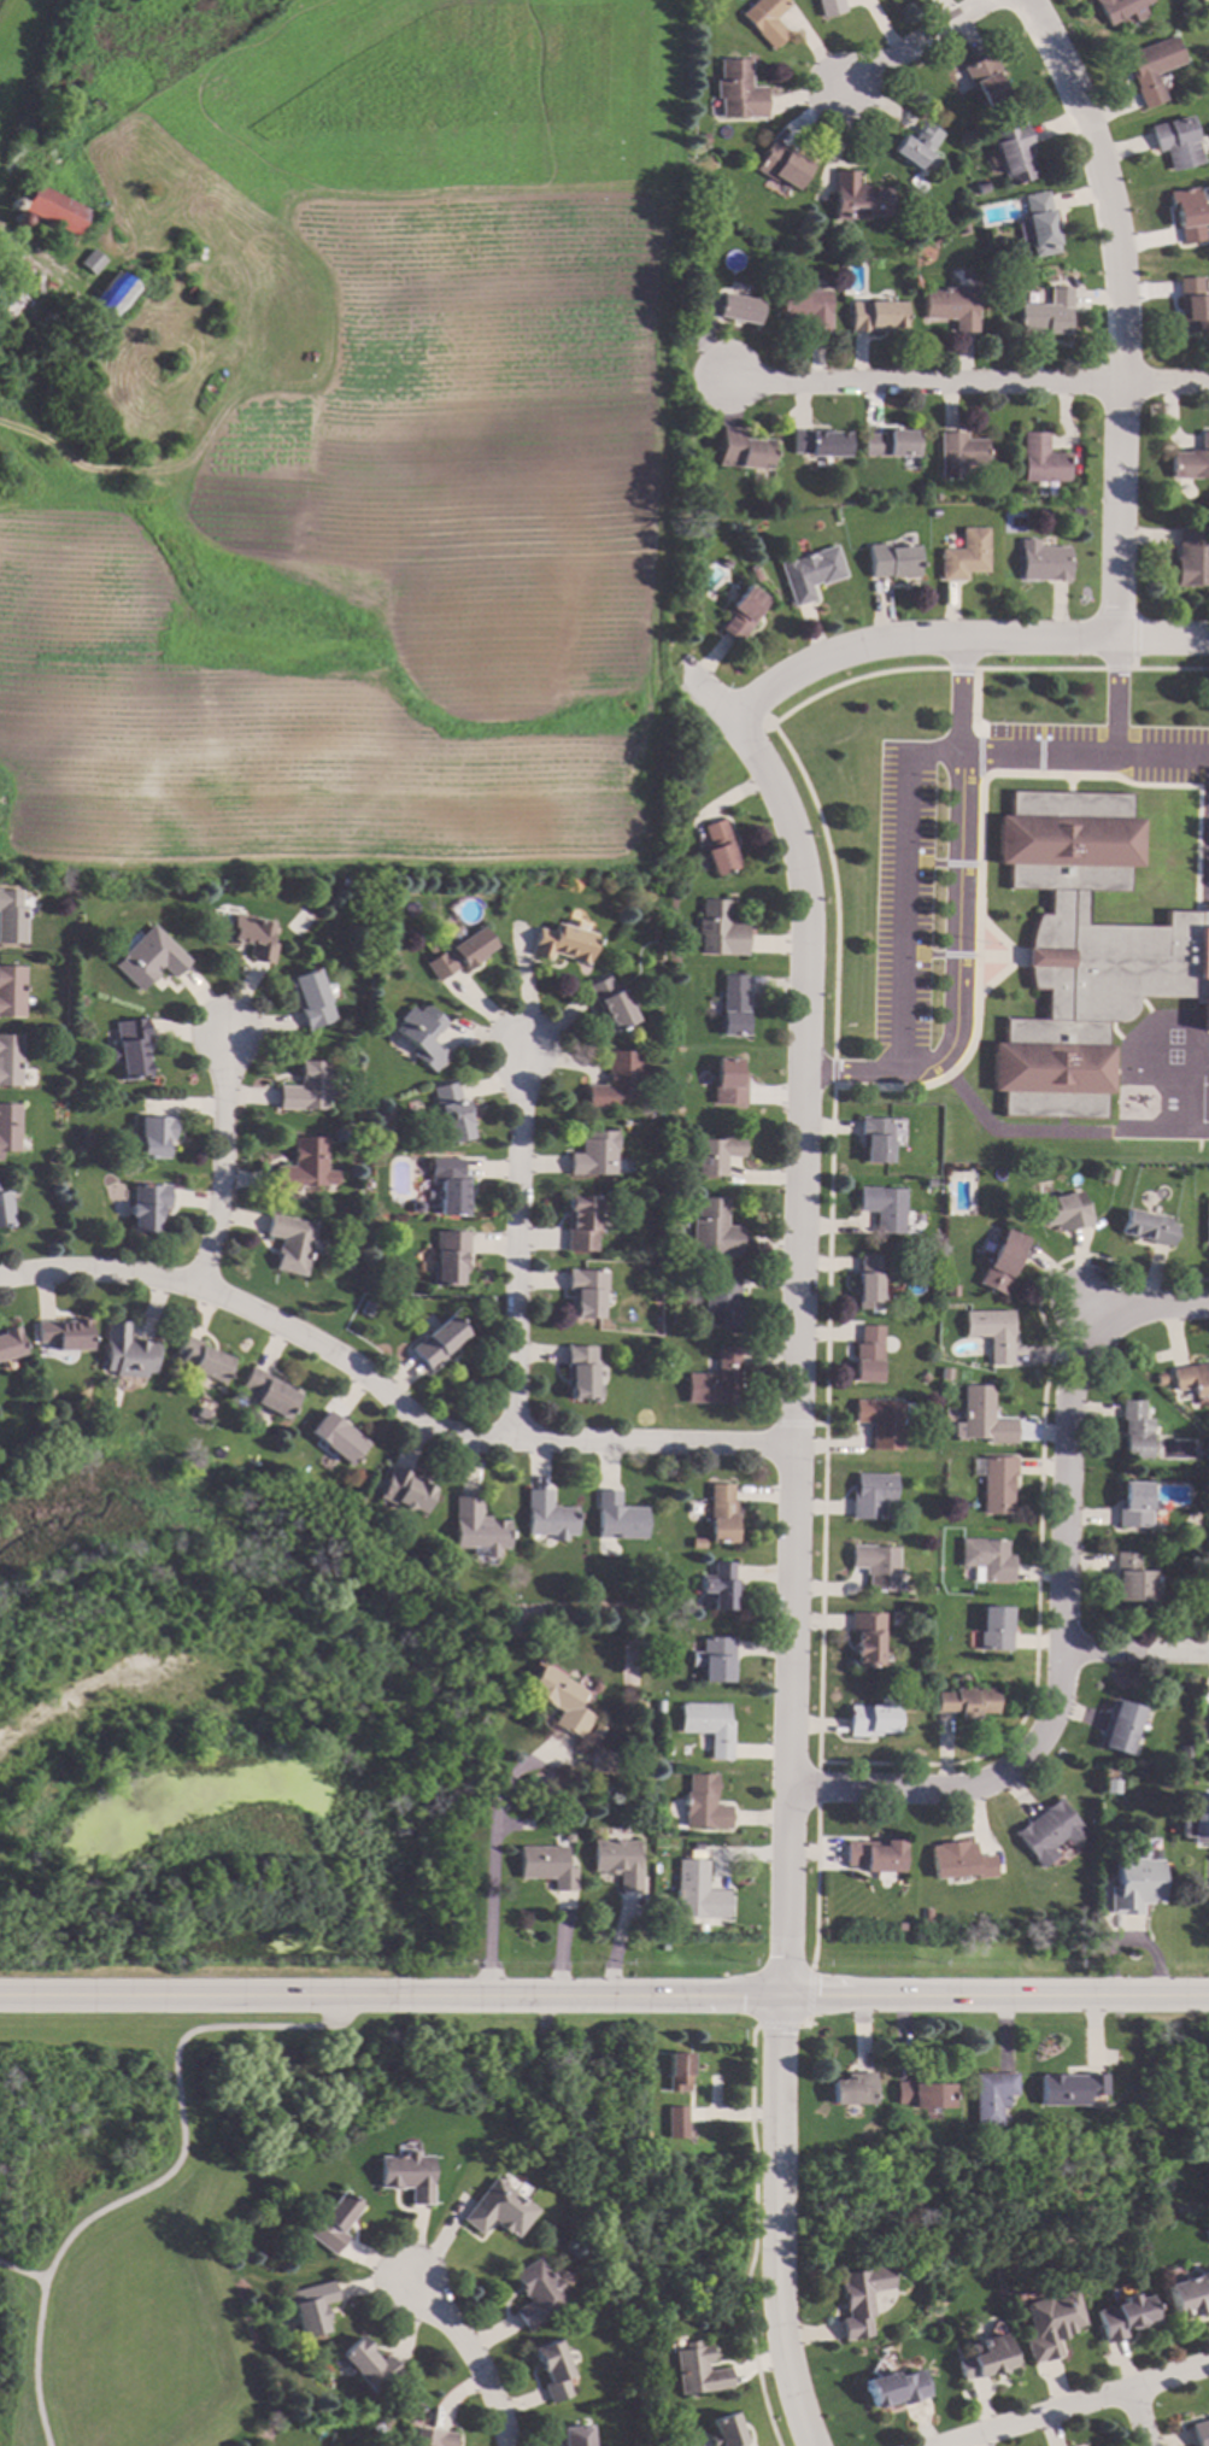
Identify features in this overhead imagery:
building: (828, 6)
building: (1116, 8)
building: (764, 19)
road: (916, 43)
building: (1151, 68)
building: (985, 80)
building: (736, 90)
building: (65, 108)
building: (43, 135)
building: (1175, 142)
building: (915, 145)
building: (1013, 153)
building: (780, 164)
building: (980, 187)
building: (856, 198)
building: (52, 209)
building: (1184, 215)
building: (1039, 223)
building: (961, 228)
building: (55, 242)
road: (29, 260)
building: (90, 262)
building: (111, 298)
building: (12, 303)
building: (1191, 305)
building: (951, 306)
building: (727, 307)
building: (806, 307)
road: (1120, 307)
building: (1046, 312)
building: (875, 315)
building: (52, 323)
building: (77, 344)
building: (60, 374)
road: (962, 379)
building: (42, 415)
building: (77, 417)
building: (818, 442)
building: (890, 444)
building: (95, 445)
building: (743, 450)
crop: (363, 451)
building: (958, 453)
building: (1041, 459)
building: (1191, 461)
building: (964, 555)
building: (1190, 558)
building: (891, 561)
building: (1043, 561)
building: (723, 562)
building: (809, 573)
building: (755, 574)
building: (741, 612)
road: (946, 639)
road: (1116, 692)
road: (1037, 749)
road: (1162, 752)
building: (717, 847)
road: (957, 850)
building: (11, 916)
building: (718, 929)
building: (250, 934)
building: (563, 942)
building: (1084, 950)
building: (459, 954)
building: (149, 958)
building: (11, 990)
building: (310, 997)
building: (610, 1003)
building: (733, 1005)
building: (422, 1036)
building: (129, 1048)
building: (10, 1058)
road: (869, 1075)
building: (615, 1080)
building: (728, 1083)
building: (306, 1087)
building: (452, 1111)
building: (8, 1126)
road: (1060, 1131)
building: (154, 1136)
building: (874, 1139)
building: (594, 1154)
building: (717, 1154)
road: (224, 1165)
building: (303, 1165)
building: (1108, 1175)
building: (928, 1181)
building: (451, 1185)
building: (416, 1206)
building: (146, 1207)
building: (884, 1207)
building: (5, 1209)
building: (1063, 1210)
building: (919, 1216)
building: (1205, 1220)
building: (582, 1222)
building: (1146, 1227)
building: (714, 1230)
building: (290, 1243)
road: (517, 1243)
building: (451, 1256)
building: (999, 1261)
building: (868, 1281)
building: (587, 1291)
building: (950, 1291)
building: (722, 1300)
building: (366, 1308)
road: (783, 1313)
building: (676, 1318)
building: (990, 1331)
building: (63, 1333)
building: (438, 1341)
building: (10, 1342)
building: (127, 1351)
building: (868, 1355)
building: (200, 1360)
building: (581, 1373)
building: (922, 1377)
building: (715, 1379)
building: (1156, 1379)
building: (1190, 1379)
building: (269, 1392)
road: (378, 1396)
building: (201, 1413)
building: (981, 1416)
building: (880, 1421)
building: (1133, 1430)
building: (338, 1438)
building: (993, 1482)
building: (404, 1490)
building: (870, 1495)
building: (1132, 1504)
building: (692, 1508)
building: (721, 1513)
building: (548, 1515)
building: (617, 1517)
building: (476, 1527)
building: (697, 1542)
building: (986, 1559)
building: (876, 1565)
building: (1129, 1578)
building: (1208, 1580)
building: (718, 1585)
road: (1058, 1608)
building: (994, 1629)
building: (867, 1637)
road: (1134, 1653)
building: (717, 1658)
building: (593, 1687)
building: (559, 1699)
building: (967, 1701)
building: (874, 1714)
building: (1207, 1723)
building: (709, 1725)
building: (1119, 1726)
building: (595, 1731)
building: (1184, 1753)
building: (599, 1761)
building: (1110, 1785)
building: (703, 1803)
building: (1196, 1816)
building: (1049, 1831)
building: (567, 1838)
building: (874, 1854)
road: (493, 1858)
building: (617, 1861)
building: (959, 1861)
building: (545, 1865)
building: (1133, 1885)
building: (697, 1893)
building: (927, 1914)
building: (899, 1924)
building: (1067, 1945)
building: (663, 1946)
road: (604, 1995)
building: (677, 2072)
building: (852, 2089)
building: (1067, 2089)
building: (922, 2095)
building: (990, 2096)
road: (177, 2099)
building: (676, 2123)
building: (406, 2176)
park: (174, 2193)
building: (495, 2210)
building: (333, 2222)
road: (776, 2223)
road: (20, 2270)
building: (534, 2294)
building: (1189, 2294)
building: (857, 2300)
building: (312, 2307)
building: (1123, 2316)
building: (1049, 2324)
road: (468, 2357)
building: (984, 2358)
road: (35, 2362)
building: (369, 2365)
building: (552, 2370)
building: (694, 2370)
building: (893, 2389)
road: (1086, 2404)
road: (1135, 2418)
building: (723, 2432)
building: (1201, 2433)
building: (576, 2436)
building: (429, 2438)
building: (397, 2444)

